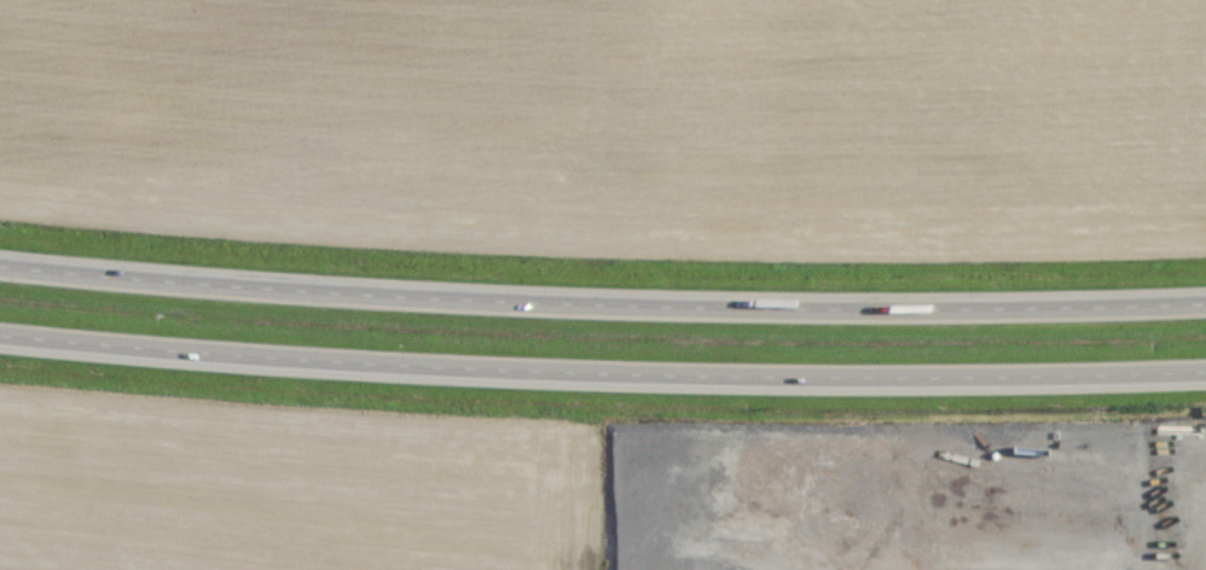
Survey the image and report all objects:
road: (602, 303)
road: (602, 376)
road: (1204, 545)

